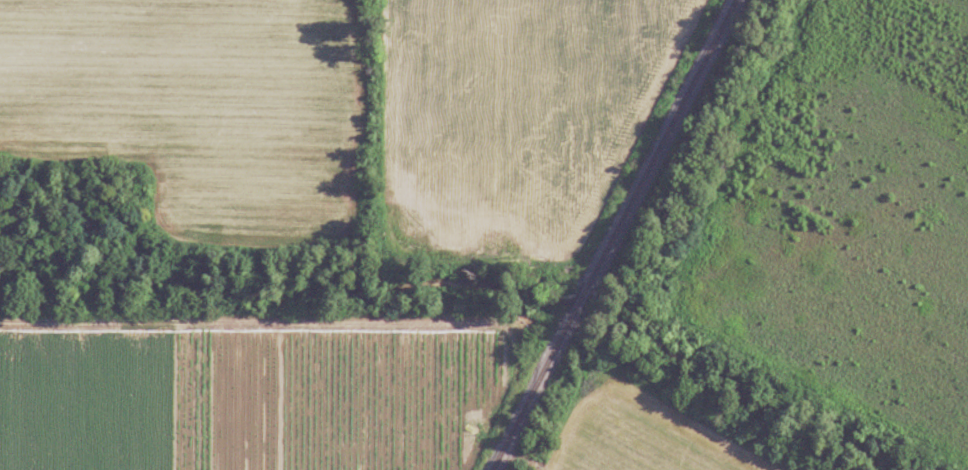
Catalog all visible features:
railway: (661, 140)
railway: (579, 299)
railway: (530, 393)

